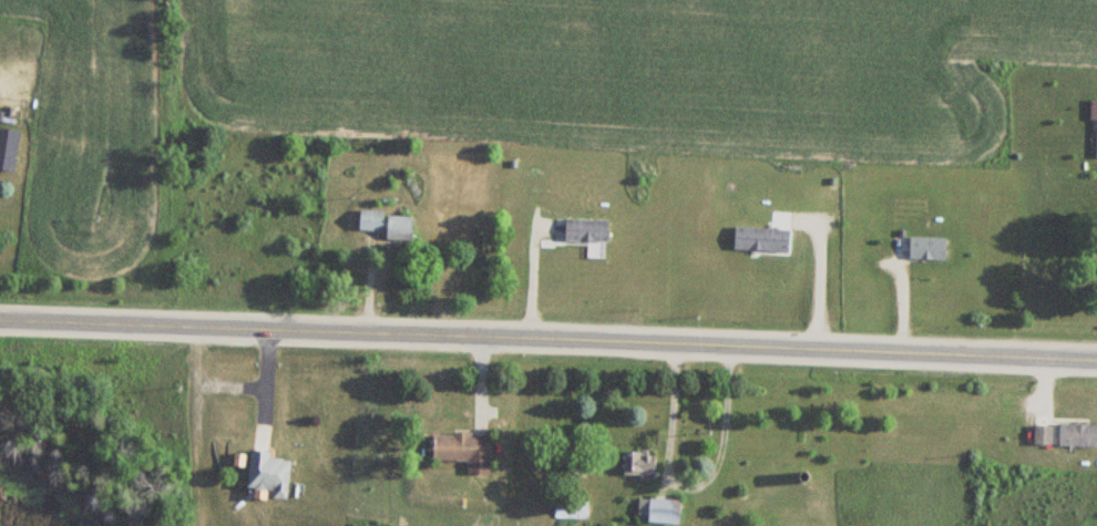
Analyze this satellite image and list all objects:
building: (1093, 118)
building: (8, 148)
building: (387, 225)
building: (925, 247)
road: (548, 336)
building: (1076, 434)
building: (1042, 435)
building: (459, 447)
building: (637, 465)
building: (266, 474)
building: (781, 506)
building: (573, 510)
building: (658, 510)

